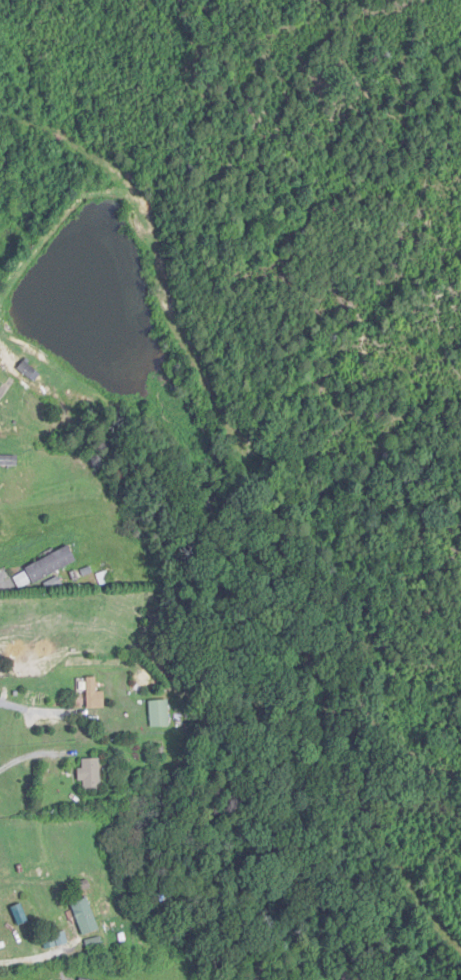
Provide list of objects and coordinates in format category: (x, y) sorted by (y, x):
building: (30, 371)
building: (8, 460)
building: (51, 565)
road: (6, 583)
building: (95, 695)
building: (160, 714)
road: (32, 715)
road: (31, 754)
building: (91, 774)
building: (86, 917)
road: (28, 960)
building: (352, 976)
building: (82, 979)

